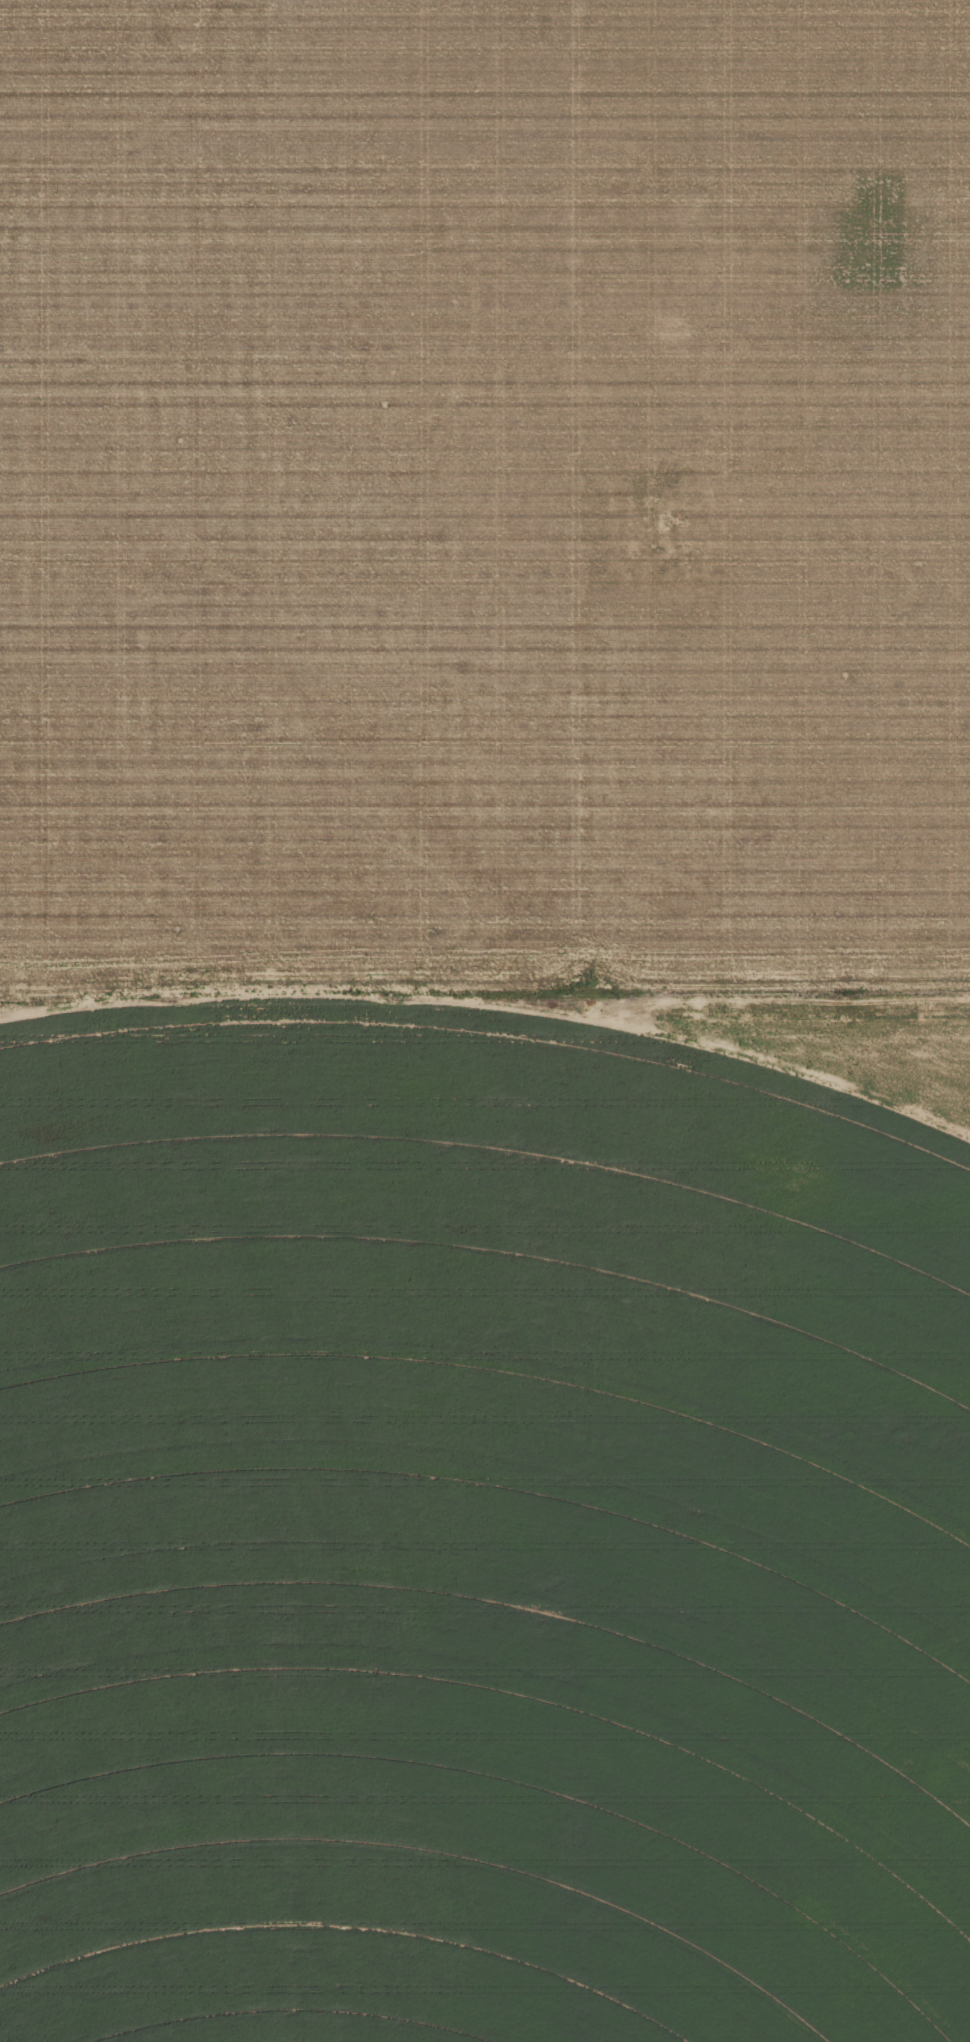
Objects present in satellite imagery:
road: (592, 496)
road: (485, 993)

